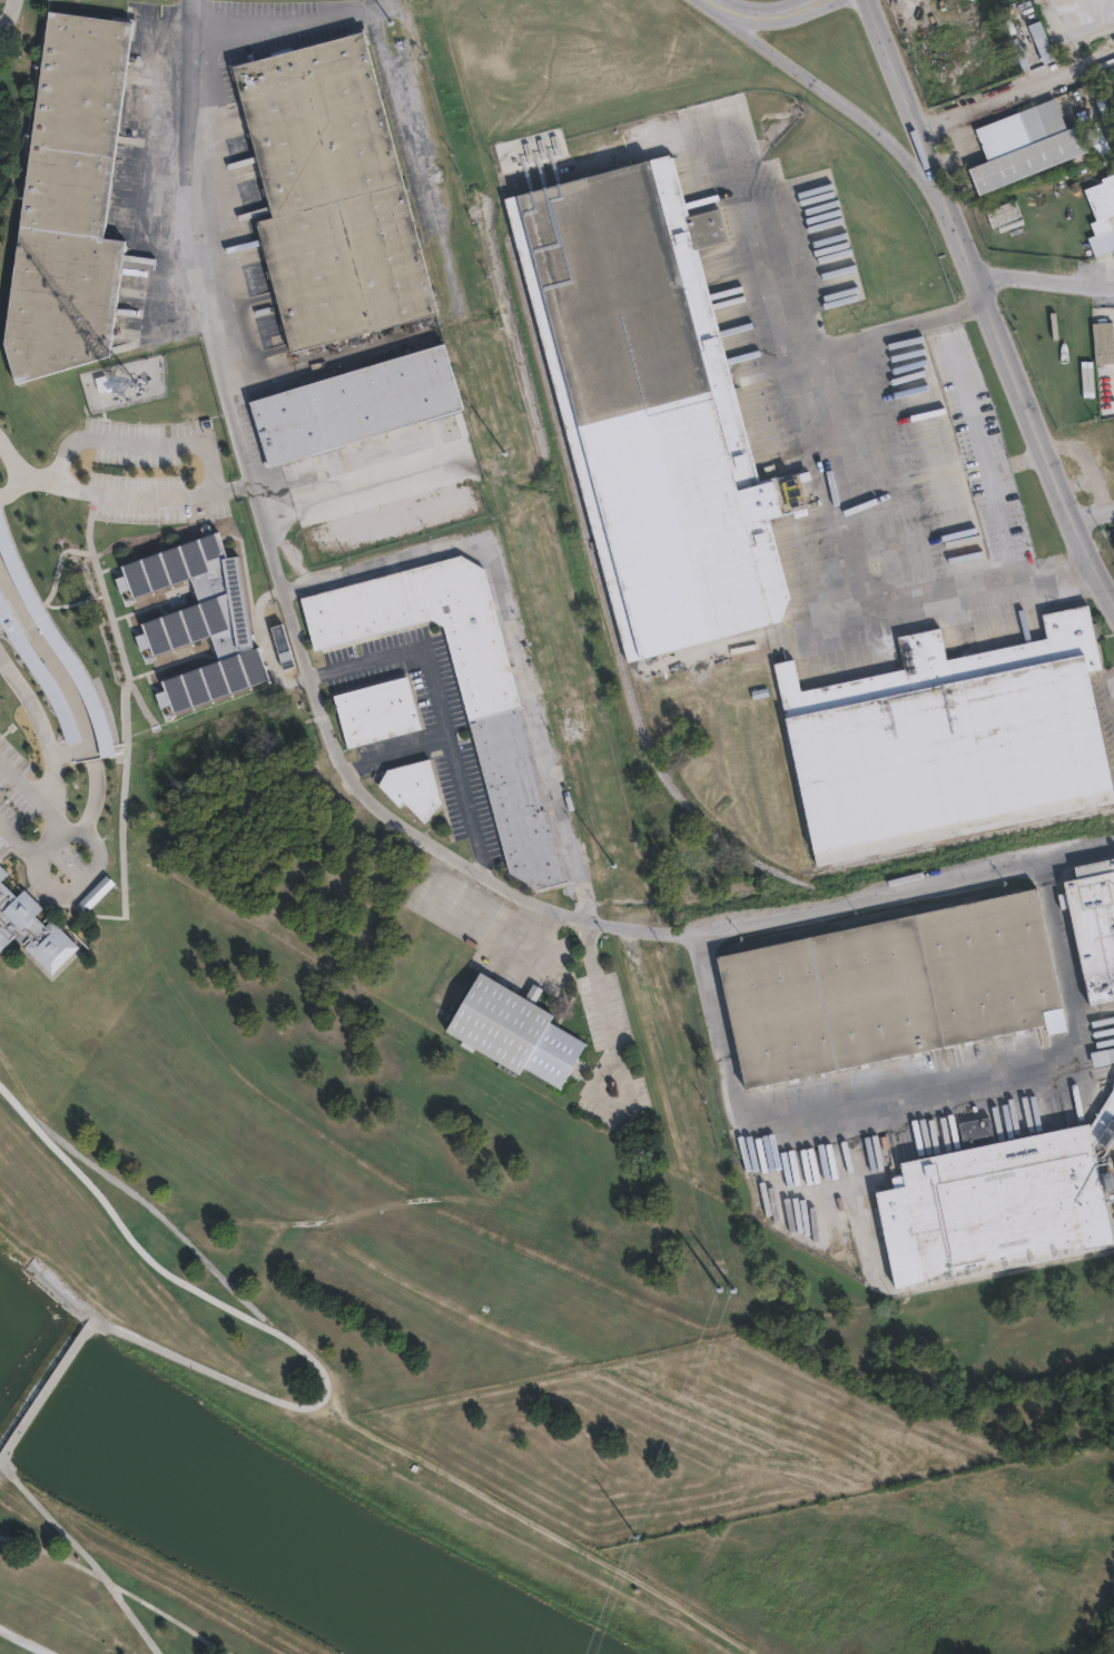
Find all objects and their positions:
road: (767, 7)
road: (6, 9)
road: (788, 20)
power tower: (393, 30)
road: (819, 88)
road: (1015, 92)
road: (398, 118)
building: (1021, 128)
building: (1027, 161)
building: (327, 196)
building: (1101, 201)
building: (66, 204)
road: (1044, 284)
road: (985, 306)
road: (962, 307)
road: (225, 342)
building: (1103, 342)
road: (305, 360)
building: (357, 402)
building: (651, 404)
road: (973, 419)
building: (1113, 423)
road: (876, 439)
power tower: (502, 443)
building: (1108, 456)
road: (121, 494)
road: (1091, 514)
building: (1000, 522)
building: (1112, 539)
road: (1032, 582)
building: (196, 620)
road: (510, 632)
road: (263, 642)
building: (276, 642)
road: (61, 672)
building: (464, 690)
road: (438, 705)
railway: (631, 706)
building: (376, 710)
building: (952, 741)
road: (47, 749)
road: (397, 756)
building: (411, 786)
railway: (959, 839)
road: (48, 843)
power tower: (610, 855)
building: (0, 868)
road: (80, 875)
building: (97, 894)
railway: (908, 906)
building: (30, 927)
road: (660, 929)
building: (1093, 936)
building: (891, 988)
building: (507, 1026)
road: (617, 1054)
building: (1101, 1057)
road: (911, 1089)
building: (969, 1124)
building: (987, 1203)
power tower: (719, 1268)
park: (393, 1269)
road: (907, 1288)
road: (262, 1325)
dam: (45, 1392)
road: (46, 1394)
river: (239, 1510)
road: (523, 1528)
road: (51, 1554)
road: (101, 1577)
road: (131, 1619)
road: (26, 1640)

